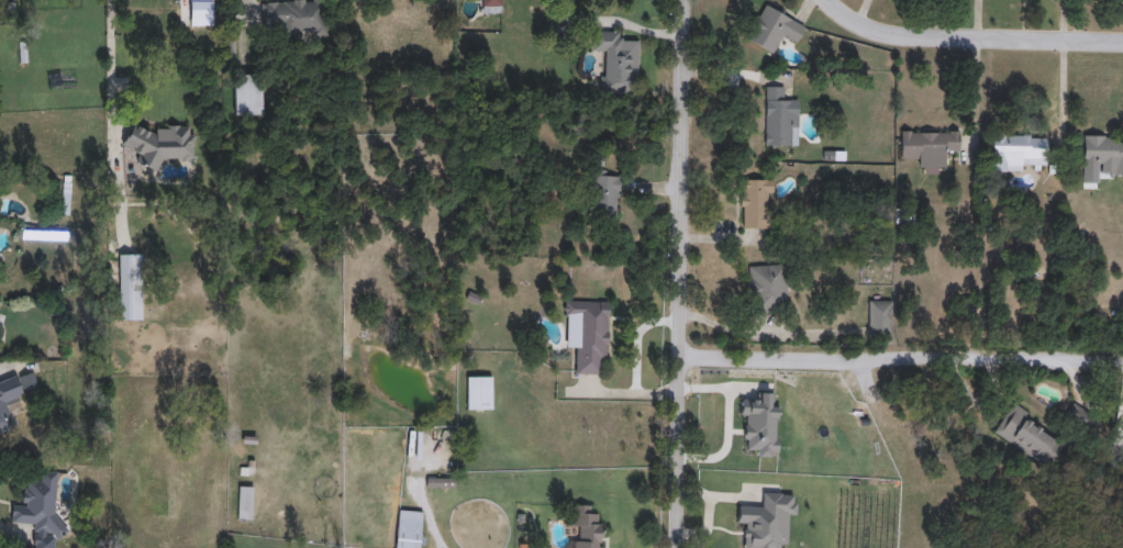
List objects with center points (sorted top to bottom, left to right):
building: (491, 7)
building: (292, 16)
road: (634, 29)
building: (774, 30)
road: (968, 41)
building: (616, 61)
building: (485, 83)
building: (246, 96)
building: (432, 110)
road: (111, 115)
building: (780, 119)
building: (159, 144)
building: (927, 146)
building: (1016, 150)
building: (1103, 153)
building: (604, 194)
building: (754, 202)
road: (683, 273)
building: (131, 288)
building: (767, 288)
building: (879, 318)
building: (587, 334)
road: (903, 360)
building: (478, 392)
building: (9, 401)
building: (1030, 437)
building: (440, 482)
building: (245, 502)
building: (40, 504)
road: (427, 522)
building: (586, 525)
building: (408, 528)

